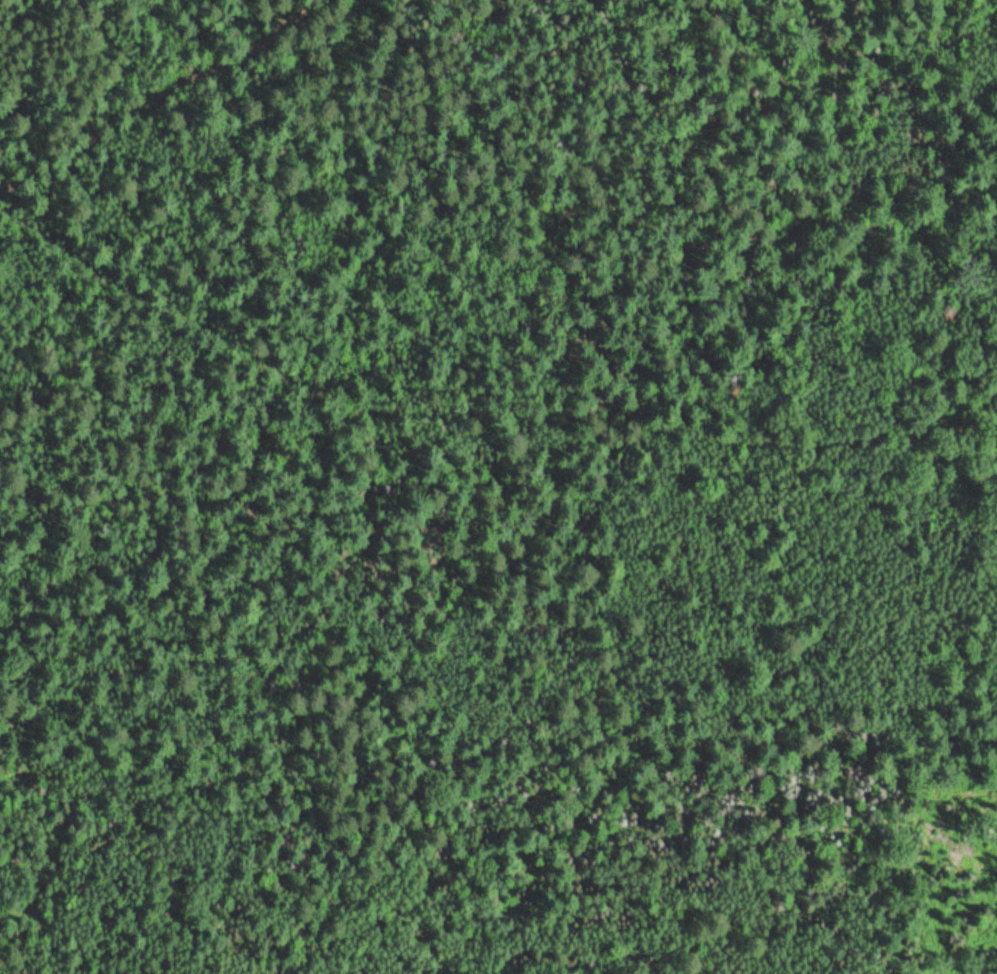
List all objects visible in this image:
road: (113, 95)

